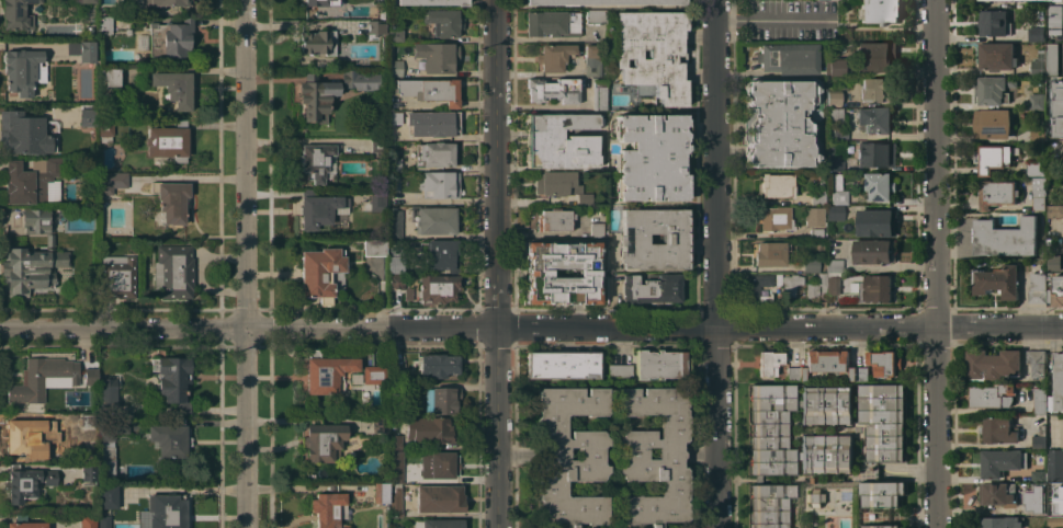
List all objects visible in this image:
building: (980, 0)
building: (1005, 0)
building: (1010, 0)
building: (1020, 0)
building: (1026, 0)
building: (88, 1)
building: (168, 2)
building: (319, 2)
building: (431, 2)
building: (606, 2)
building: (880, 10)
building: (1055, 13)
building: (16, 14)
building: (596, 15)
road: (770, 19)
building: (442, 22)
building: (552, 23)
building: (995, 23)
building: (105, 24)
building: (399, 24)
building: (376, 27)
building: (1036, 33)
building: (845, 34)
building: (395, 35)
building: (170, 38)
building: (318, 42)
building: (81, 49)
building: (653, 53)
building: (437, 56)
building: (553, 56)
building: (875, 56)
building: (996, 56)
building: (789, 58)
building: (1050, 58)
building: (591, 59)
building: (1036, 62)
building: (835, 67)
building: (395, 68)
building: (23, 70)
building: (106, 74)
building: (360, 80)
building: (174, 88)
building: (643, 89)
building: (993, 89)
building: (430, 90)
building: (553, 90)
building: (877, 90)
building: (315, 95)
building: (599, 95)
building: (833, 99)
building: (1034, 101)
building: (1059, 110)
building: (88, 114)
building: (394, 117)
building: (874, 119)
building: (432, 123)
building: (779, 123)
building: (992, 123)
building: (835, 124)
building: (104, 129)
building: (23, 133)
building: (1036, 137)
building: (559, 140)
building: (168, 141)
building: (378, 146)
building: (434, 153)
building: (877, 153)
building: (651, 157)
building: (834, 158)
building: (992, 158)
building: (315, 161)
building: (396, 164)
building: (1033, 169)
building: (30, 181)
building: (111, 181)
building: (834, 181)
building: (1025, 181)
building: (557, 182)
building: (822, 182)
building: (439, 184)
building: (777, 185)
building: (880, 185)
building: (997, 193)
building: (1036, 193)
building: (817, 196)
building: (839, 196)
building: (584, 198)
building: (377, 199)
building: (171, 200)
building: (317, 208)
building: (1054, 210)
building: (834, 213)
building: (813, 216)
building: (774, 218)
building: (36, 219)
building: (433, 219)
building: (554, 219)
building: (692, 221)
building: (877, 222)
building: (394, 225)
building: (596, 230)
building: (817, 232)
building: (1005, 238)
building: (49, 239)
building: (632, 239)
building: (1058, 241)
building: (374, 246)
building: (1051, 248)
building: (1059, 248)
building: (874, 251)
building: (770, 253)
building: (442, 254)
building: (395, 261)
building: (1055, 262)
road: (245, 263)
road: (934, 263)
road: (495, 264)
road: (714, 264)
building: (810, 264)
building: (833, 265)
building: (31, 268)
building: (173, 271)
building: (539, 273)
building: (321, 274)
building: (117, 276)
building: (395, 280)
building: (997, 280)
building: (790, 283)
building: (833, 283)
building: (816, 286)
building: (438, 288)
building: (651, 288)
building: (877, 288)
building: (1034, 288)
building: (1058, 290)
building: (407, 294)
building: (750, 294)
building: (1049, 295)
road: (531, 328)
building: (827, 360)
building: (884, 361)
building: (768, 363)
building: (1034, 363)
building: (562, 364)
building: (660, 364)
building: (992, 364)
building: (437, 365)
building: (620, 370)
building: (326, 372)
building: (374, 374)
building: (398, 374)
building: (795, 374)
building: (859, 374)
building: (173, 380)
building: (33, 381)
building: (1059, 381)
building: (108, 392)
building: (992, 395)
building: (440, 400)
building: (1038, 401)
building: (796, 403)
building: (826, 404)
building: (883, 421)
building: (380, 424)
building: (88, 426)
building: (112, 426)
building: (770, 428)
building: (427, 429)
building: (805, 429)
building: (999, 429)
building: (1038, 437)
building: (26, 438)
building: (323, 440)
building: (168, 441)
building: (395, 441)
building: (826, 452)
building: (798, 455)
building: (555, 458)
road: (973, 460)
building: (1000, 462)
building: (440, 463)
building: (106, 464)
building: (1054, 466)
building: (397, 468)
building: (88, 470)
building: (1037, 475)
building: (25, 482)
building: (134, 485)
building: (381, 493)
building: (881, 493)
building: (997, 494)
building: (109, 496)
building: (816, 497)
building: (439, 498)
building: (395, 500)
building: (769, 505)
building: (1056, 506)
building: (1037, 507)
building: (327, 509)
building: (167, 510)
building: (1055, 520)
building: (88, 521)
building: (104, 521)
building: (1002, 521)
building: (24, 523)
building: (439, 524)
building: (881, 526)

